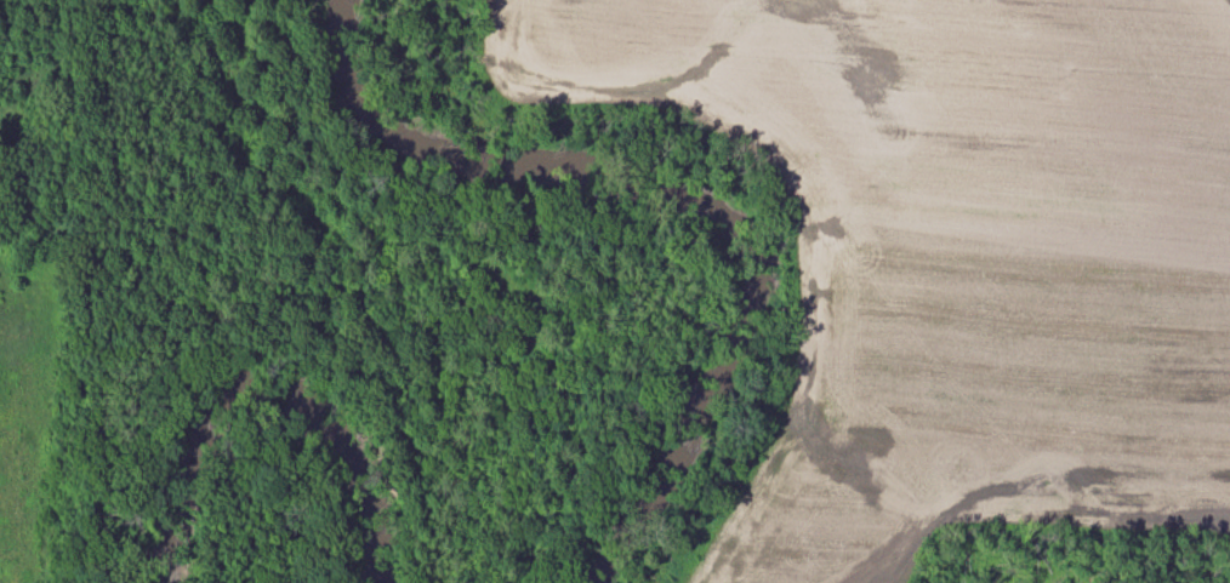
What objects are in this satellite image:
river: (662, 215)
river: (274, 405)

